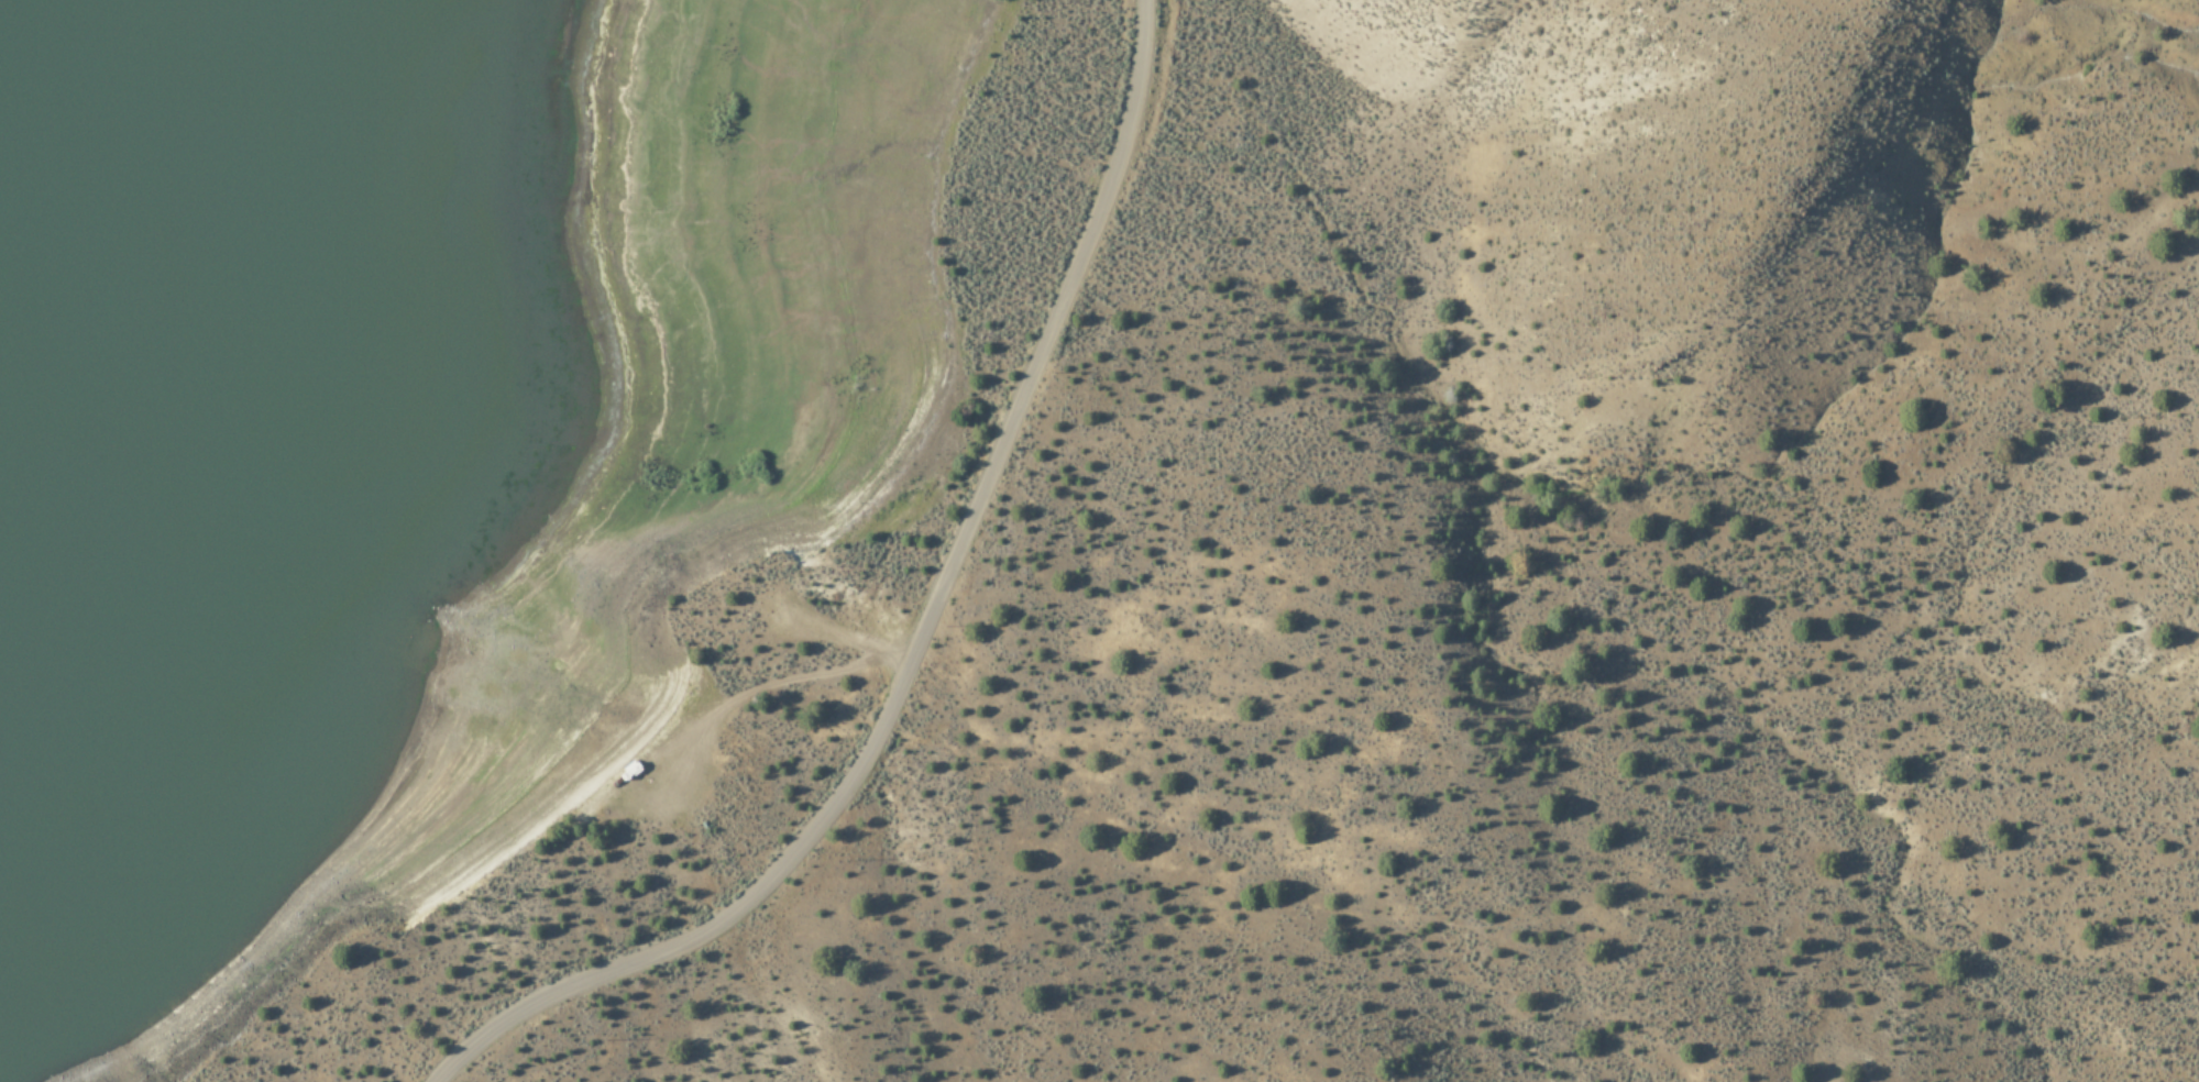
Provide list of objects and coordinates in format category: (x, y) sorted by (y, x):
road: (927, 640)

